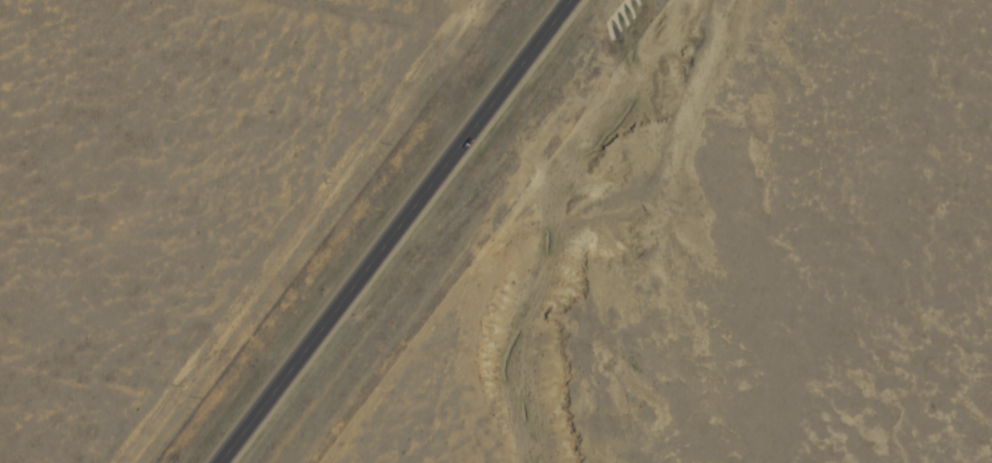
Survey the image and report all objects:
road: (392, 231)

